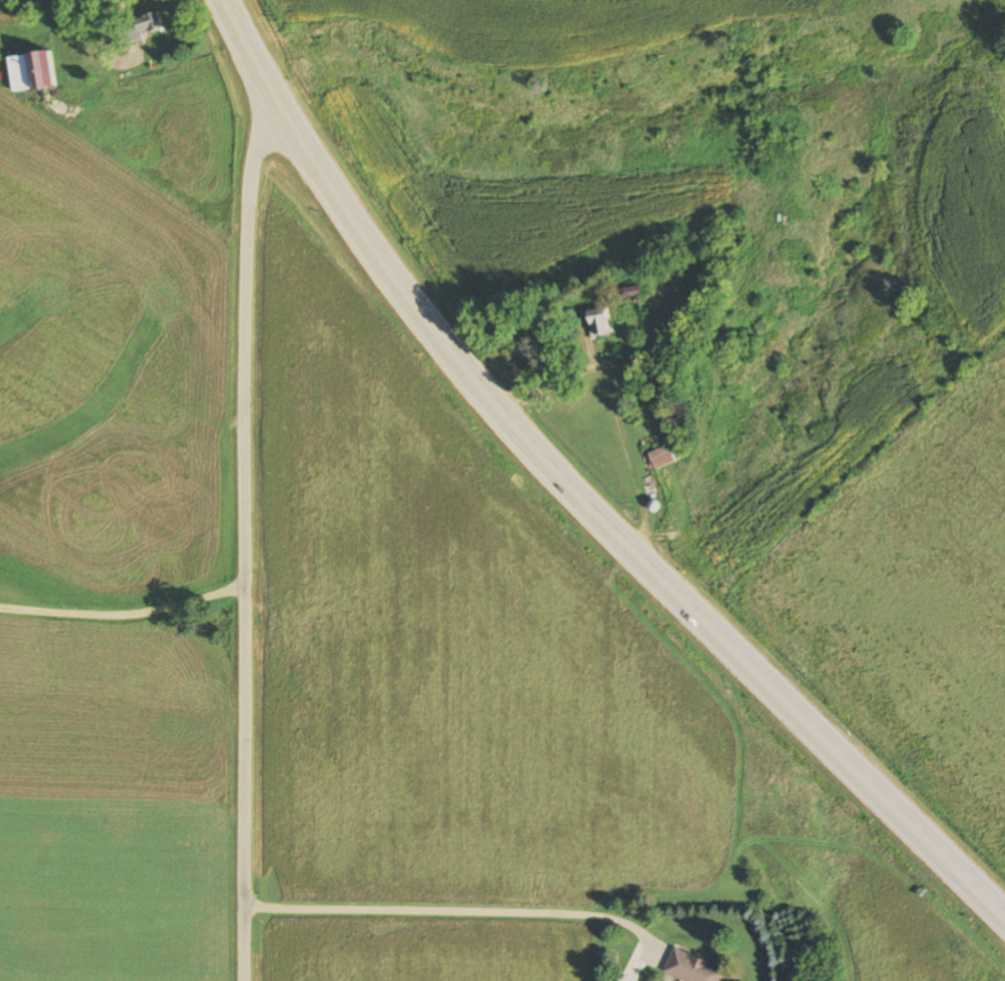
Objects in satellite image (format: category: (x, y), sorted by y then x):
building: (141, 28)
building: (32, 73)
building: (633, 291)
building: (599, 323)
building: (660, 353)
building: (662, 457)
road: (575, 491)
road: (245, 541)
road: (124, 612)
road: (457, 911)
building: (691, 968)

